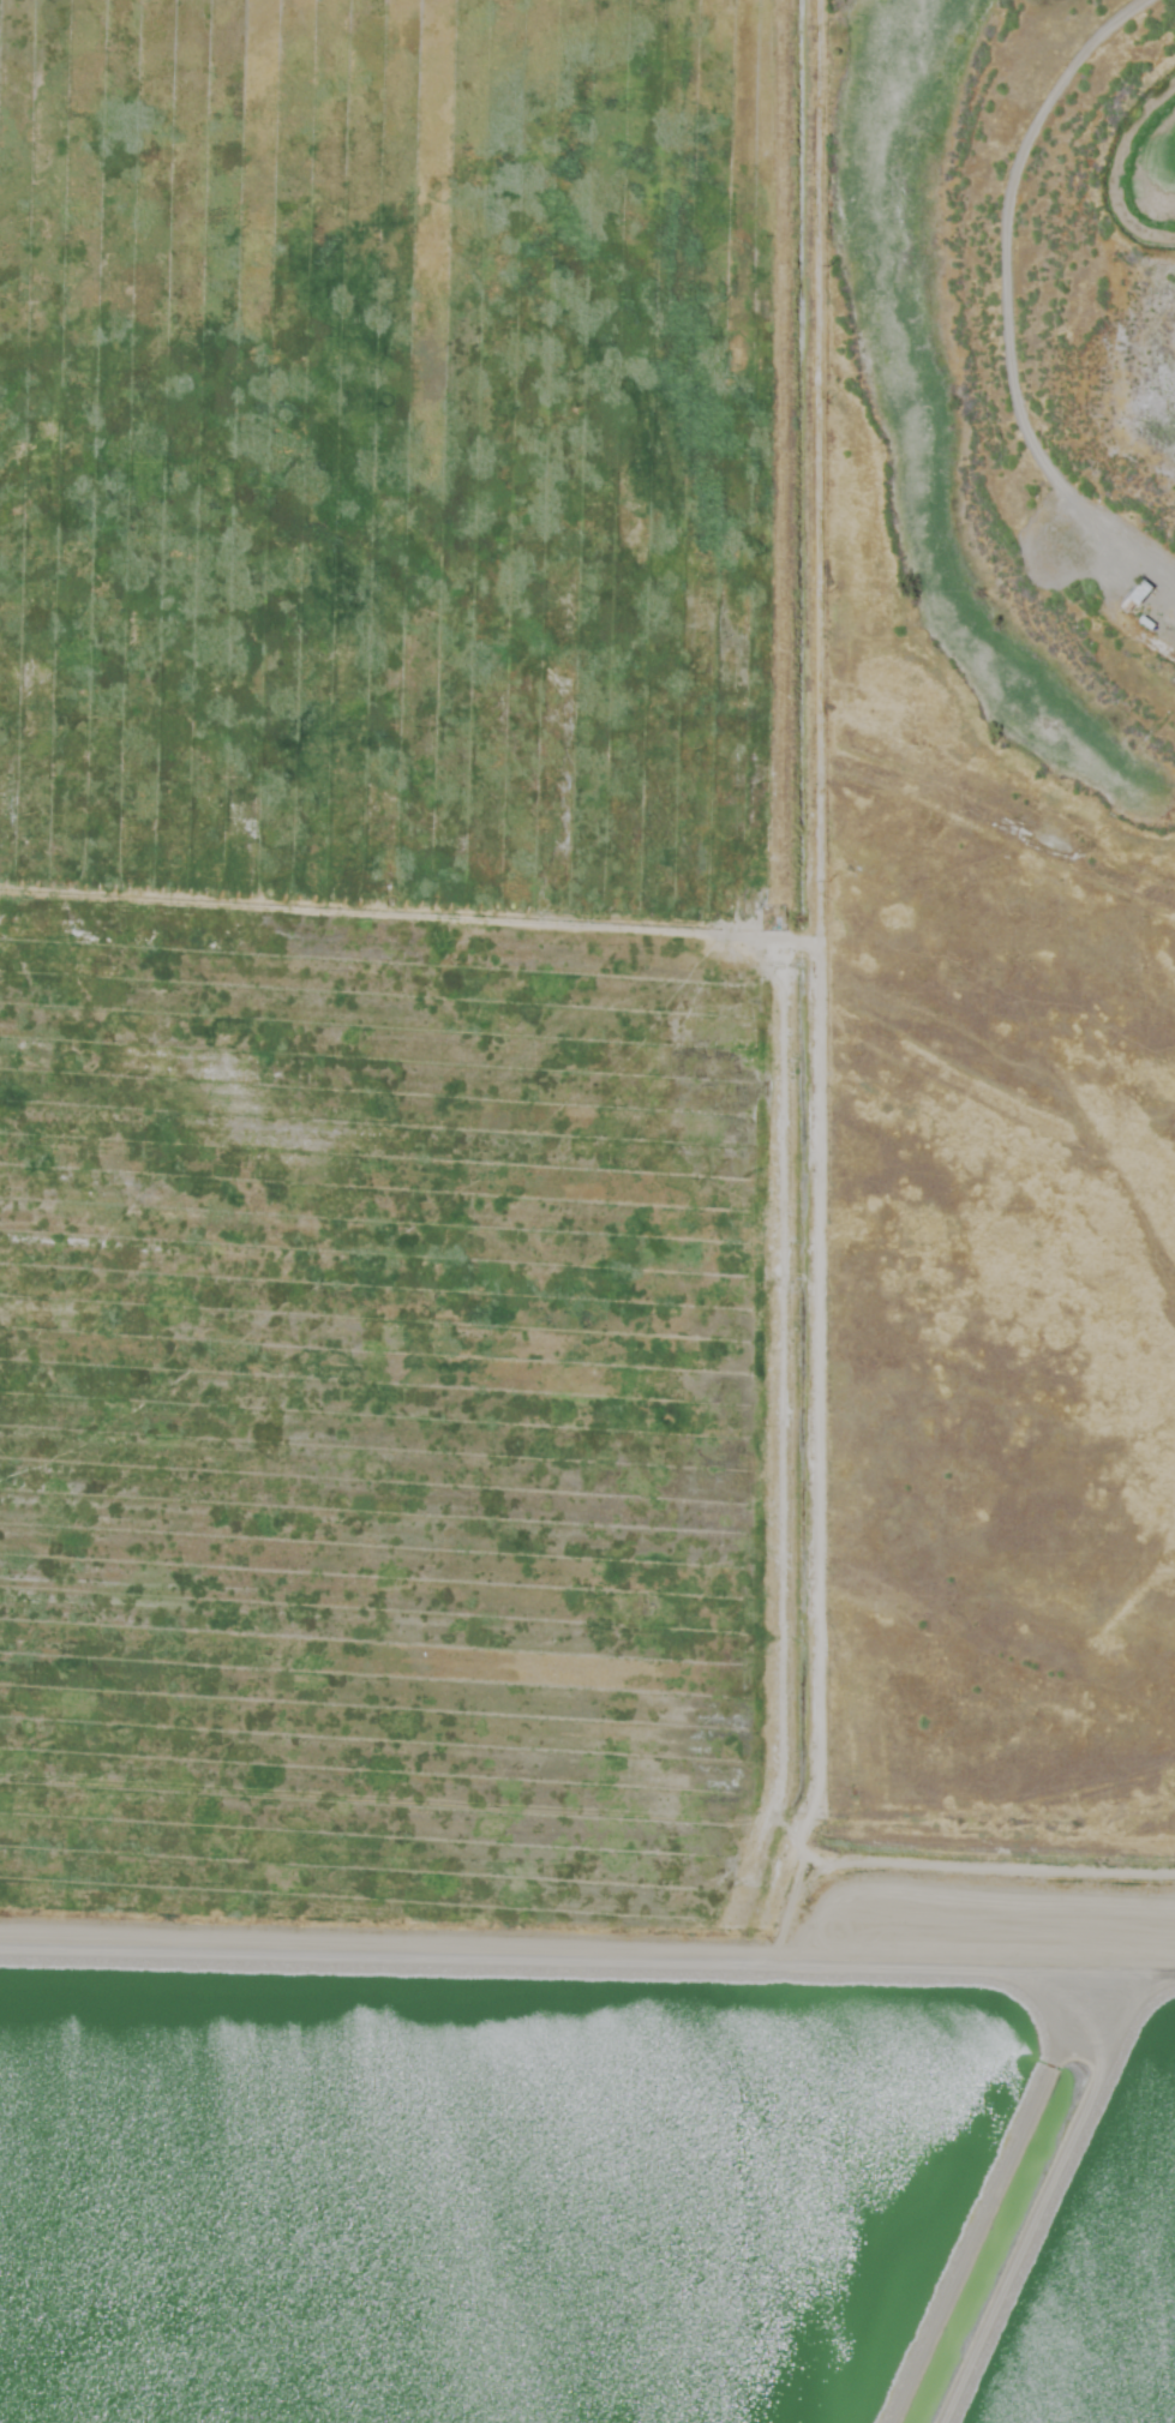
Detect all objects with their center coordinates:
road: (1006, 295)
building: (1137, 596)
crop: (394, 988)
road: (815, 1399)
road: (403, 1937)
road: (1163, 1945)

